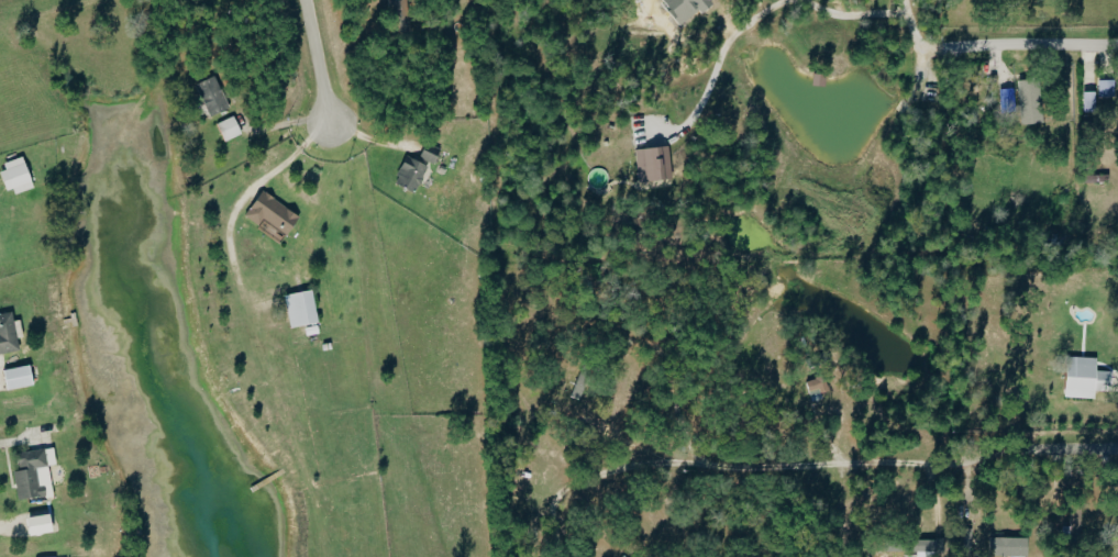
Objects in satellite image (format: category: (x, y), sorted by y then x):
road: (785, 8)
road: (1030, 52)
road: (317, 64)
building: (1105, 89)
building: (210, 97)
building: (1087, 101)
building: (1028, 102)
building: (228, 130)
building: (425, 155)
building: (651, 165)
building: (409, 176)
building: (14, 177)
building: (597, 178)
road: (256, 186)
building: (268, 216)
building: (298, 309)
building: (7, 334)
building: (1081, 377)
building: (14, 378)
road: (1045, 453)
road: (756, 468)
building: (31, 472)
building: (966, 539)
building: (929, 546)
building: (1006, 546)
building: (619, 556)

